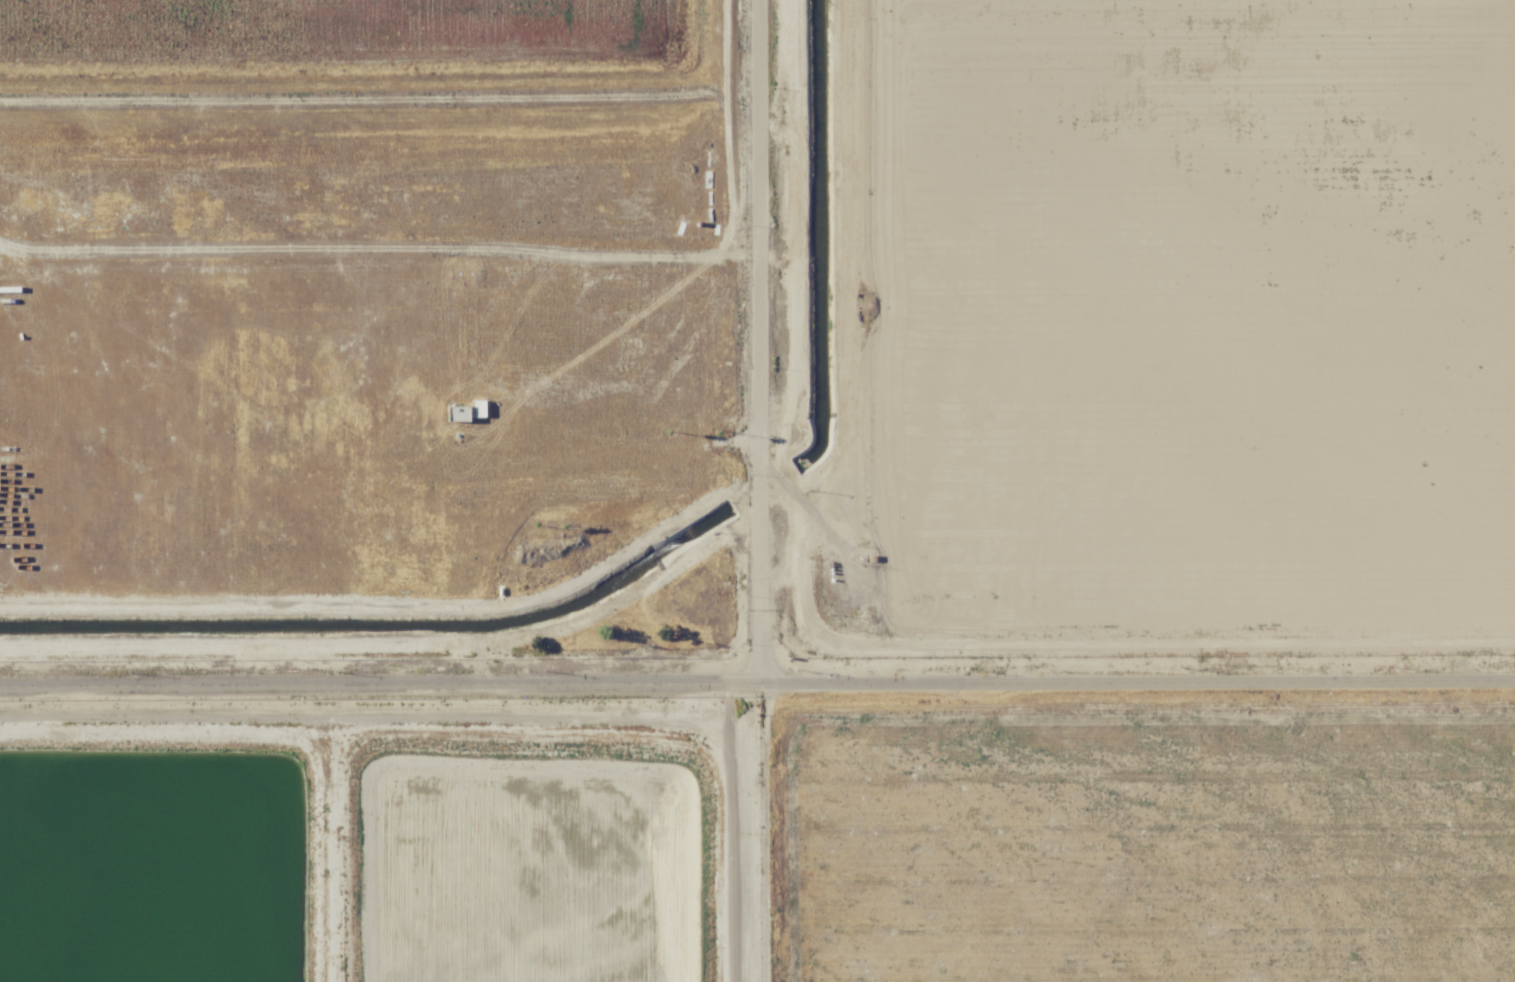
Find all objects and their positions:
wastewater plant: (340, 33)
wastewater plant: (375, 260)
crop: (1188, 327)
road: (758, 342)
building: (476, 407)
building: (456, 412)
wastewater plant: (398, 491)
road: (757, 684)
road: (506, 707)
crop: (1146, 841)
road: (333, 845)
wastewater plant: (155, 858)
wastewater plant: (536, 864)

